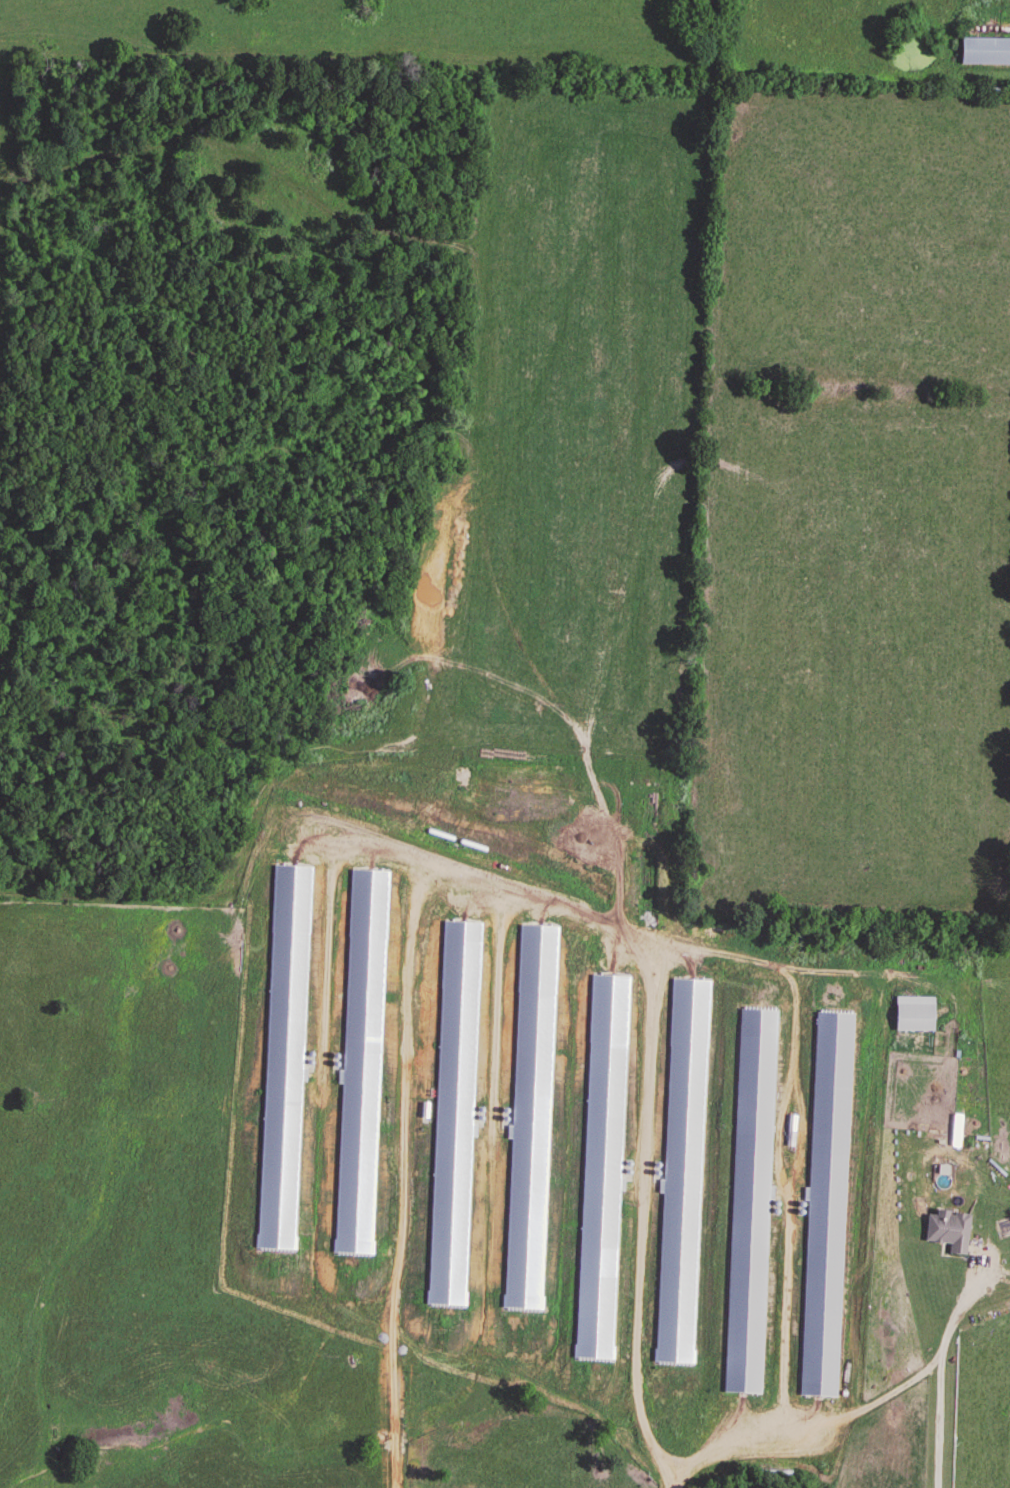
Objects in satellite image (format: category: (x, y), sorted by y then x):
road: (644, 1224)
building: (947, 1233)
building: (450, 1322)
road: (429, 1345)
road: (944, 1372)
road: (405, 1456)

